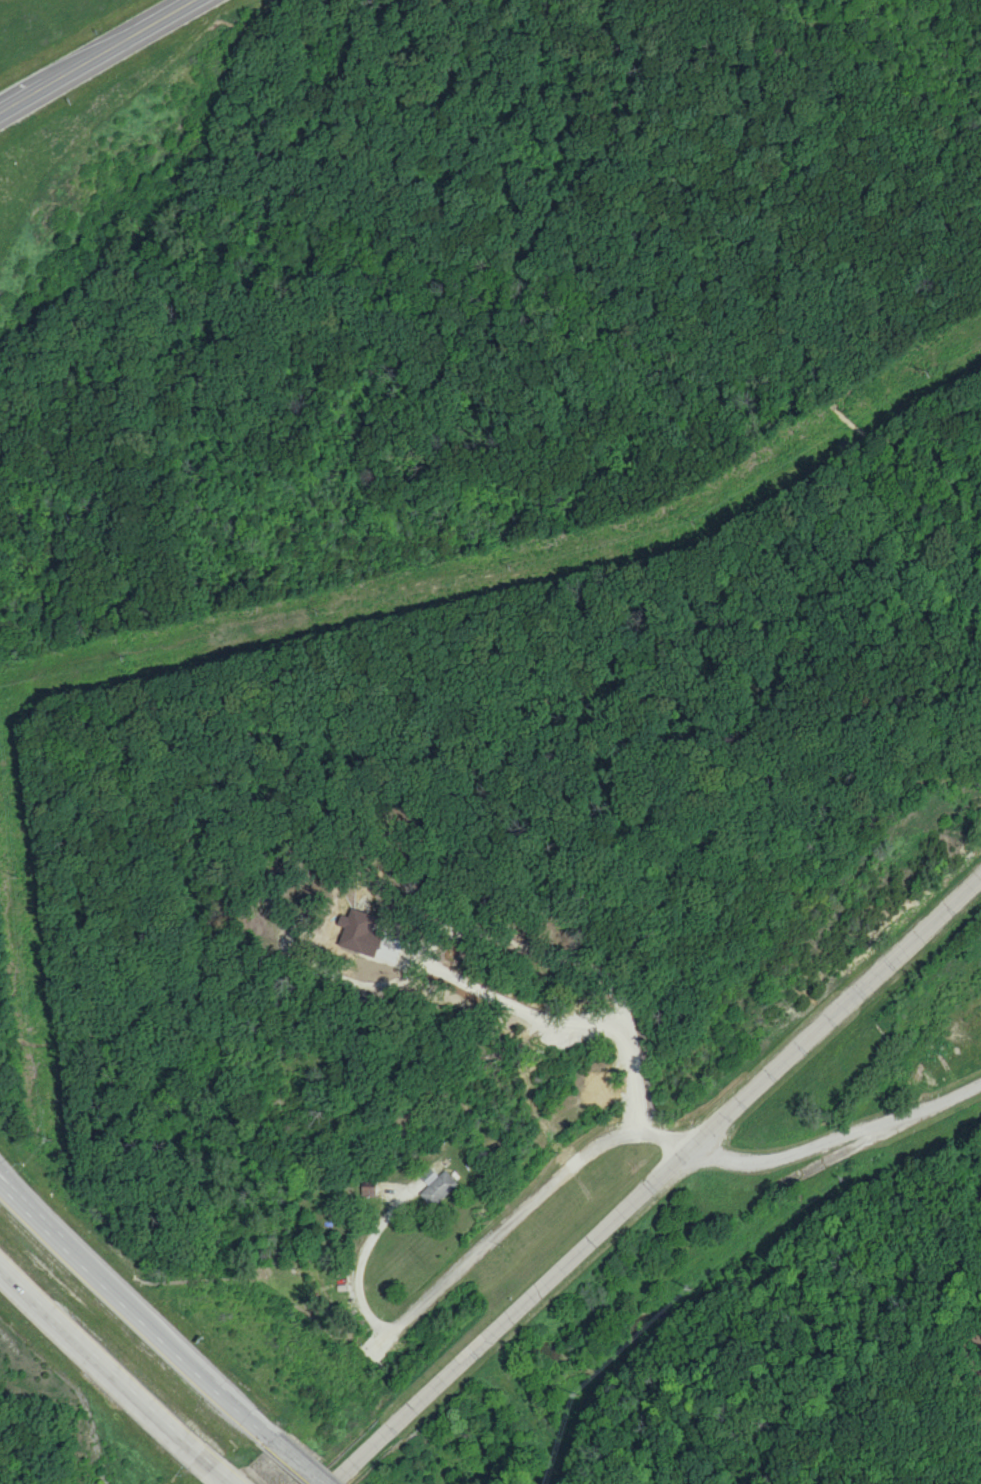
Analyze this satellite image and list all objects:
road: (99, 59)
building: (358, 931)
road: (842, 1141)
road: (655, 1181)
building: (437, 1185)
building: (369, 1189)
road: (529, 1204)
road: (365, 1240)
road: (122, 1306)
road: (103, 1372)
road: (281, 1454)
road: (216, 1475)

